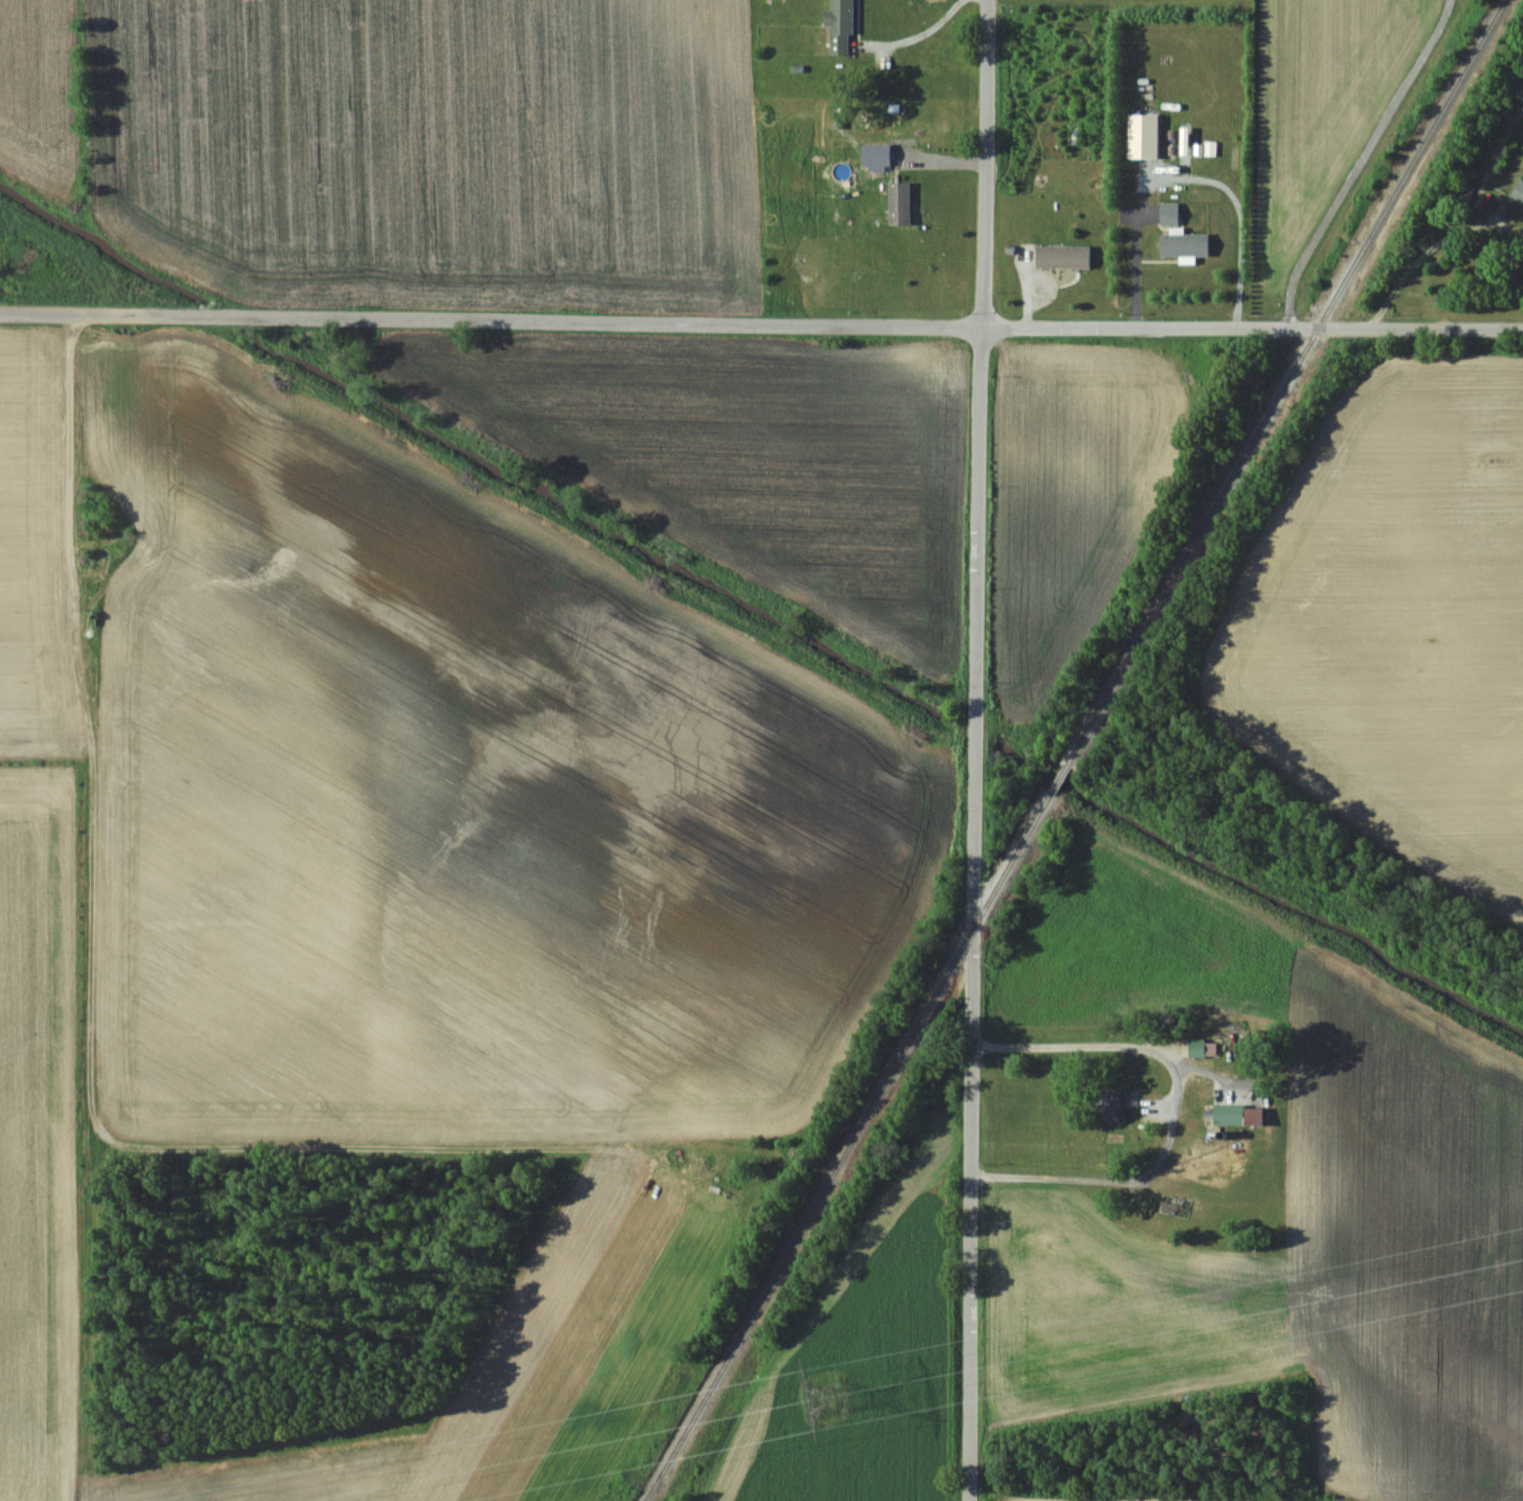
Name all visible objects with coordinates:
building: (840, 26)
road: (920, 30)
building: (1521, 94)
building: (1142, 135)
road: (1355, 161)
road: (1178, 177)
building: (1518, 191)
building: (899, 203)
building: (1168, 213)
building: (1183, 244)
road: (1429, 245)
building: (1062, 255)
road: (761, 321)
road: (967, 750)
railway: (1073, 750)
building: (1201, 1048)
building: (1109, 1104)
road: (1175, 1108)
building: (1253, 1116)
building: (1177, 1206)
power tower: (817, 1392)

